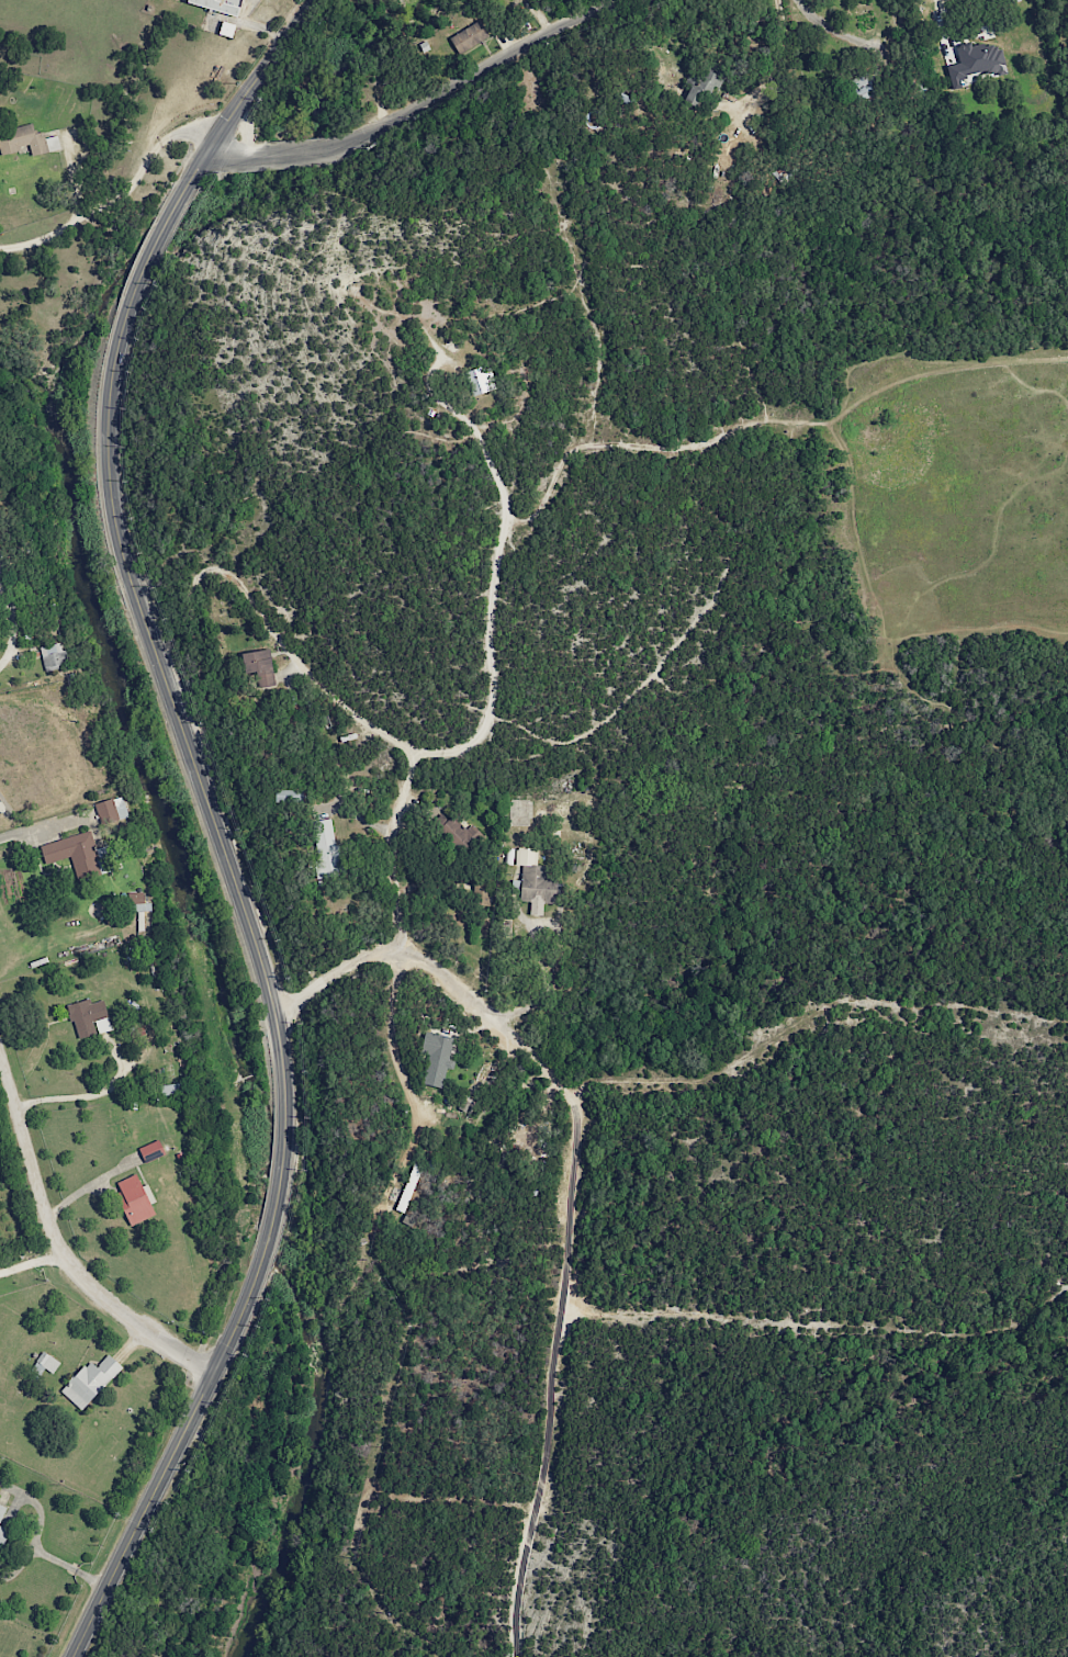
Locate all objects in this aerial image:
building: (991, 2)
building: (218, 5)
road: (943, 26)
building: (226, 29)
building: (468, 37)
road: (774, 61)
building: (976, 65)
road: (483, 68)
building: (861, 86)
building: (700, 88)
road: (240, 100)
building: (26, 140)
road: (292, 153)
road: (228, 157)
road: (119, 198)
road: (151, 249)
building: (477, 381)
park: (662, 476)
building: (3, 549)
road: (243, 589)
building: (3, 608)
road: (11, 629)
building: (53, 656)
building: (258, 666)
road: (491, 711)
road: (177, 712)
building: (288, 796)
building: (111, 810)
road: (46, 825)
building: (454, 835)
building: (325, 842)
building: (78, 850)
building: (532, 879)
building: (137, 902)
road: (441, 973)
building: (93, 1015)
road: (810, 1017)
building: (436, 1057)
road: (396, 1064)
building: (407, 1187)
road: (278, 1194)
building: (140, 1196)
road: (58, 1247)
road: (31, 1260)
building: (46, 1363)
building: (94, 1377)
road: (552, 1382)
road: (170, 1458)
building: (7, 1520)
road: (72, 1569)

